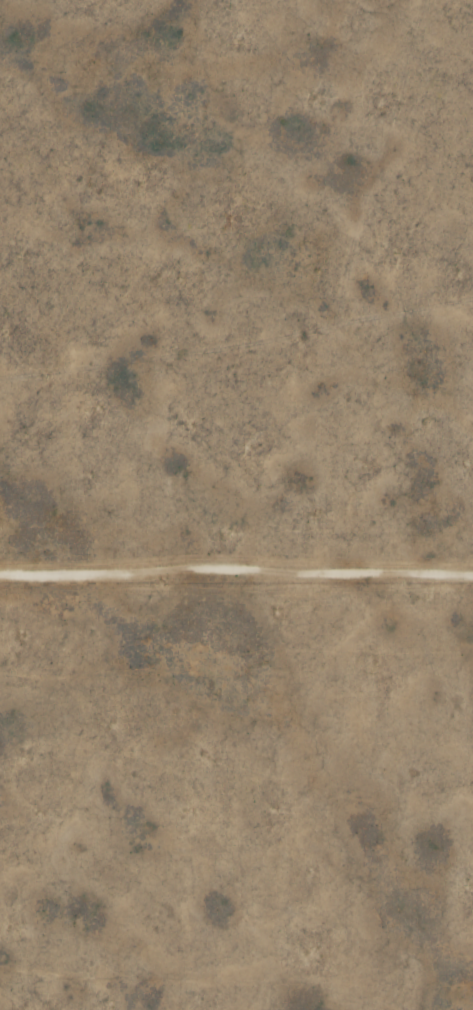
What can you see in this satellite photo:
road: (236, 551)

